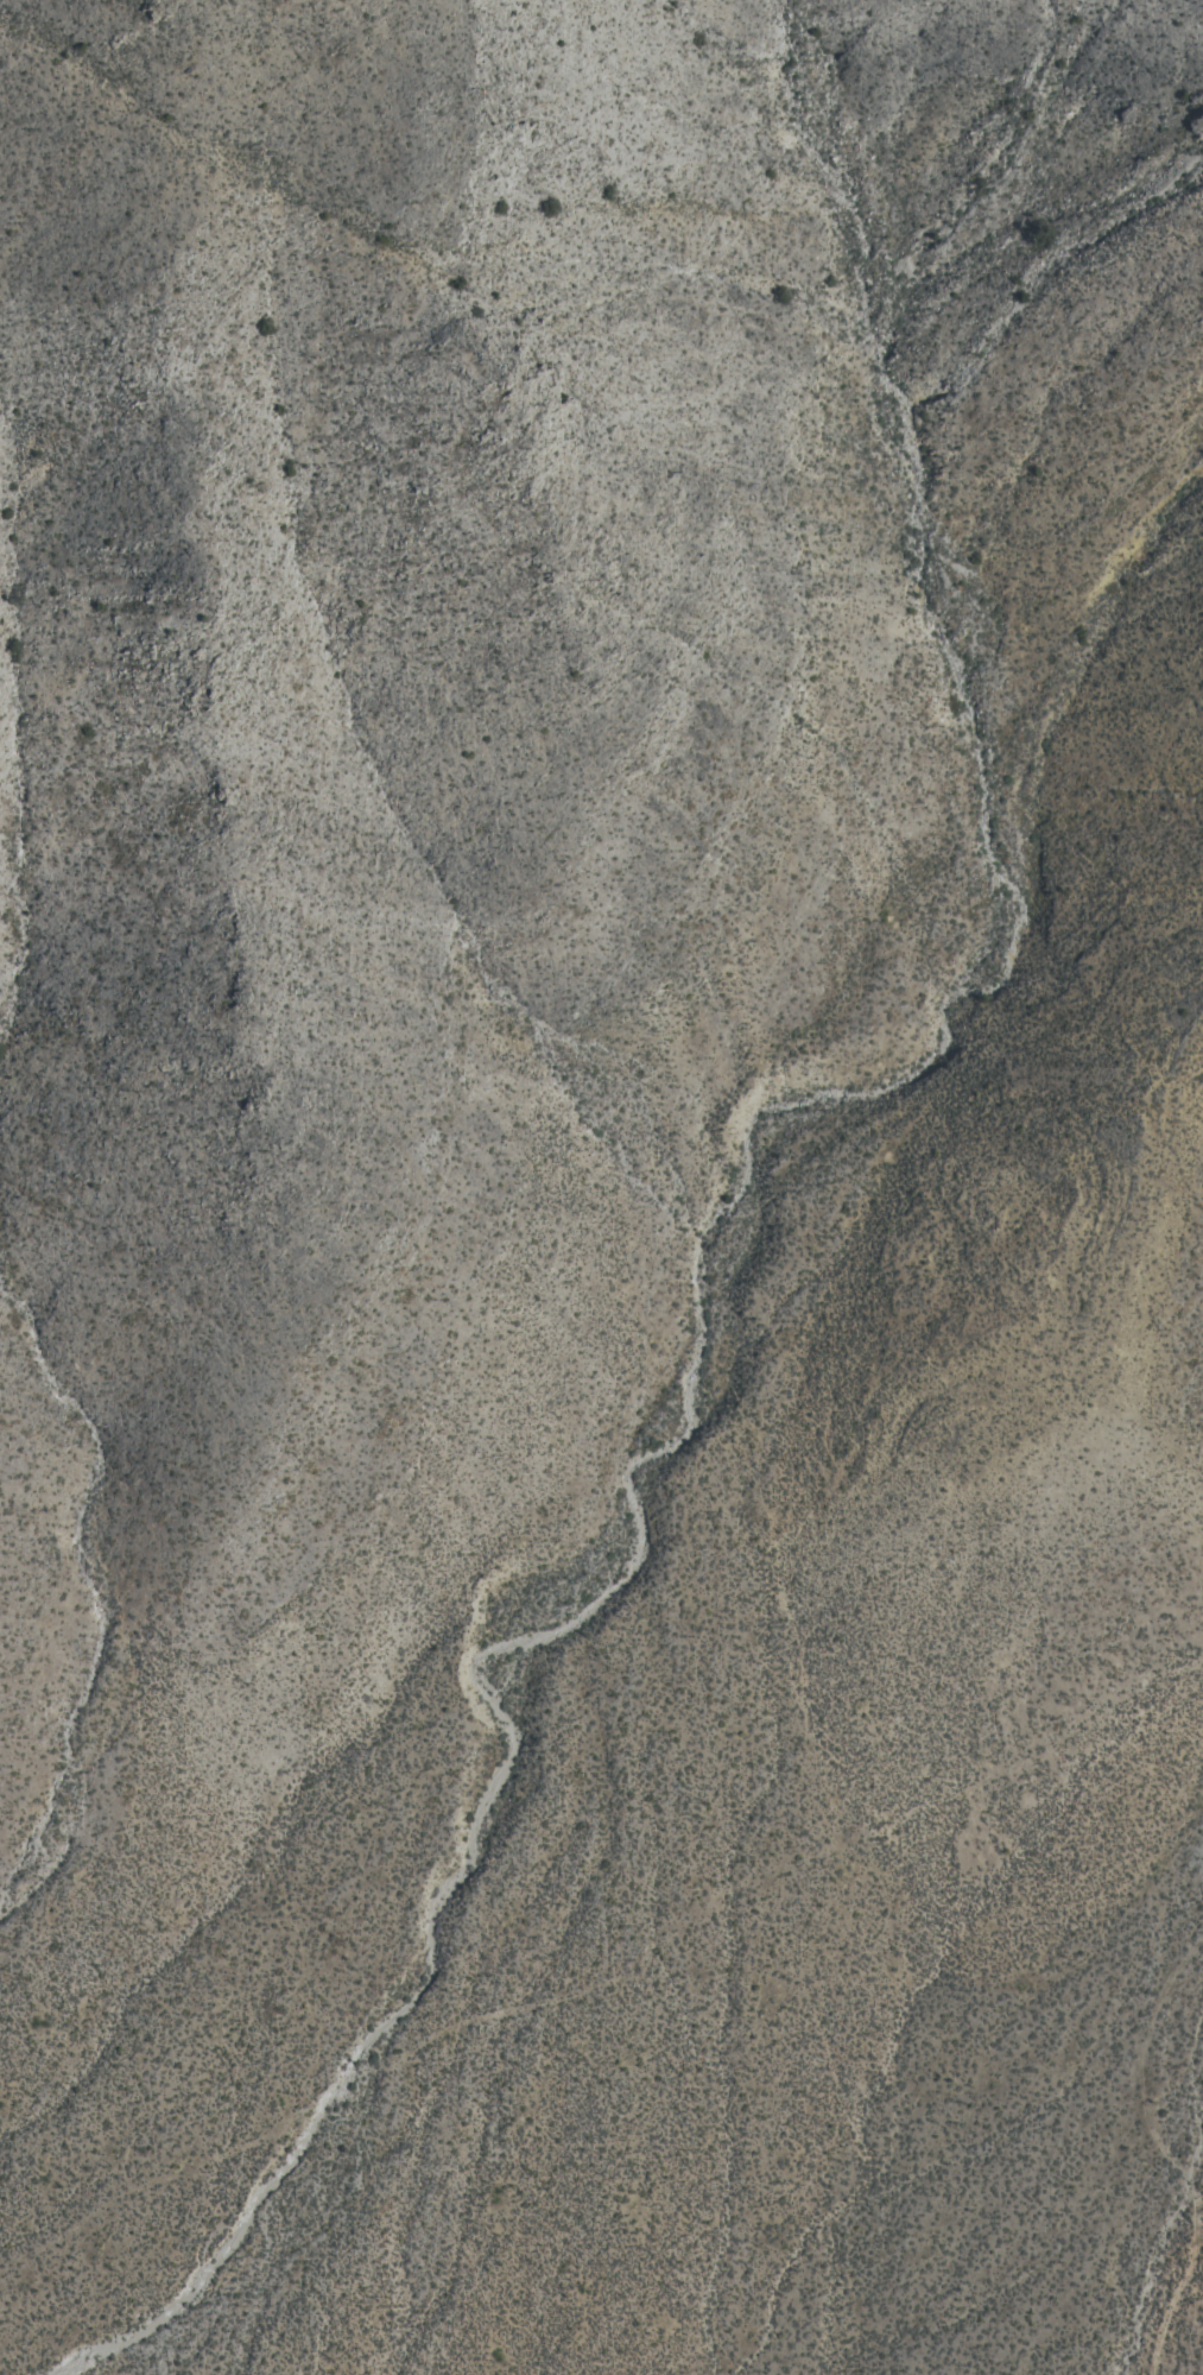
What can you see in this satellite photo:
road: (1126, 2124)

